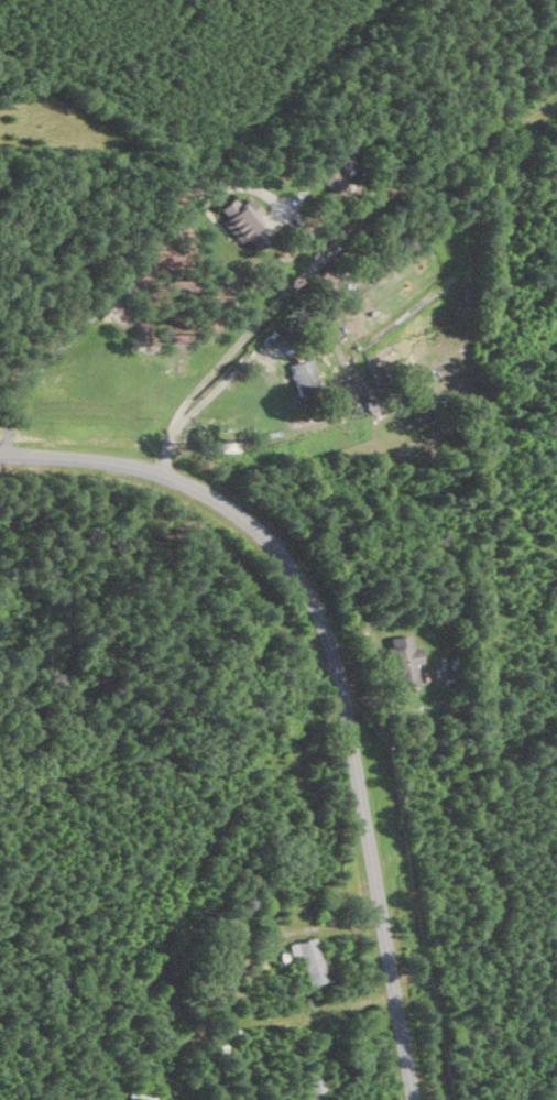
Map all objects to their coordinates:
road: (245, 186)
road: (346, 367)
building: (309, 377)
building: (396, 661)
road: (331, 671)
building: (303, 955)

